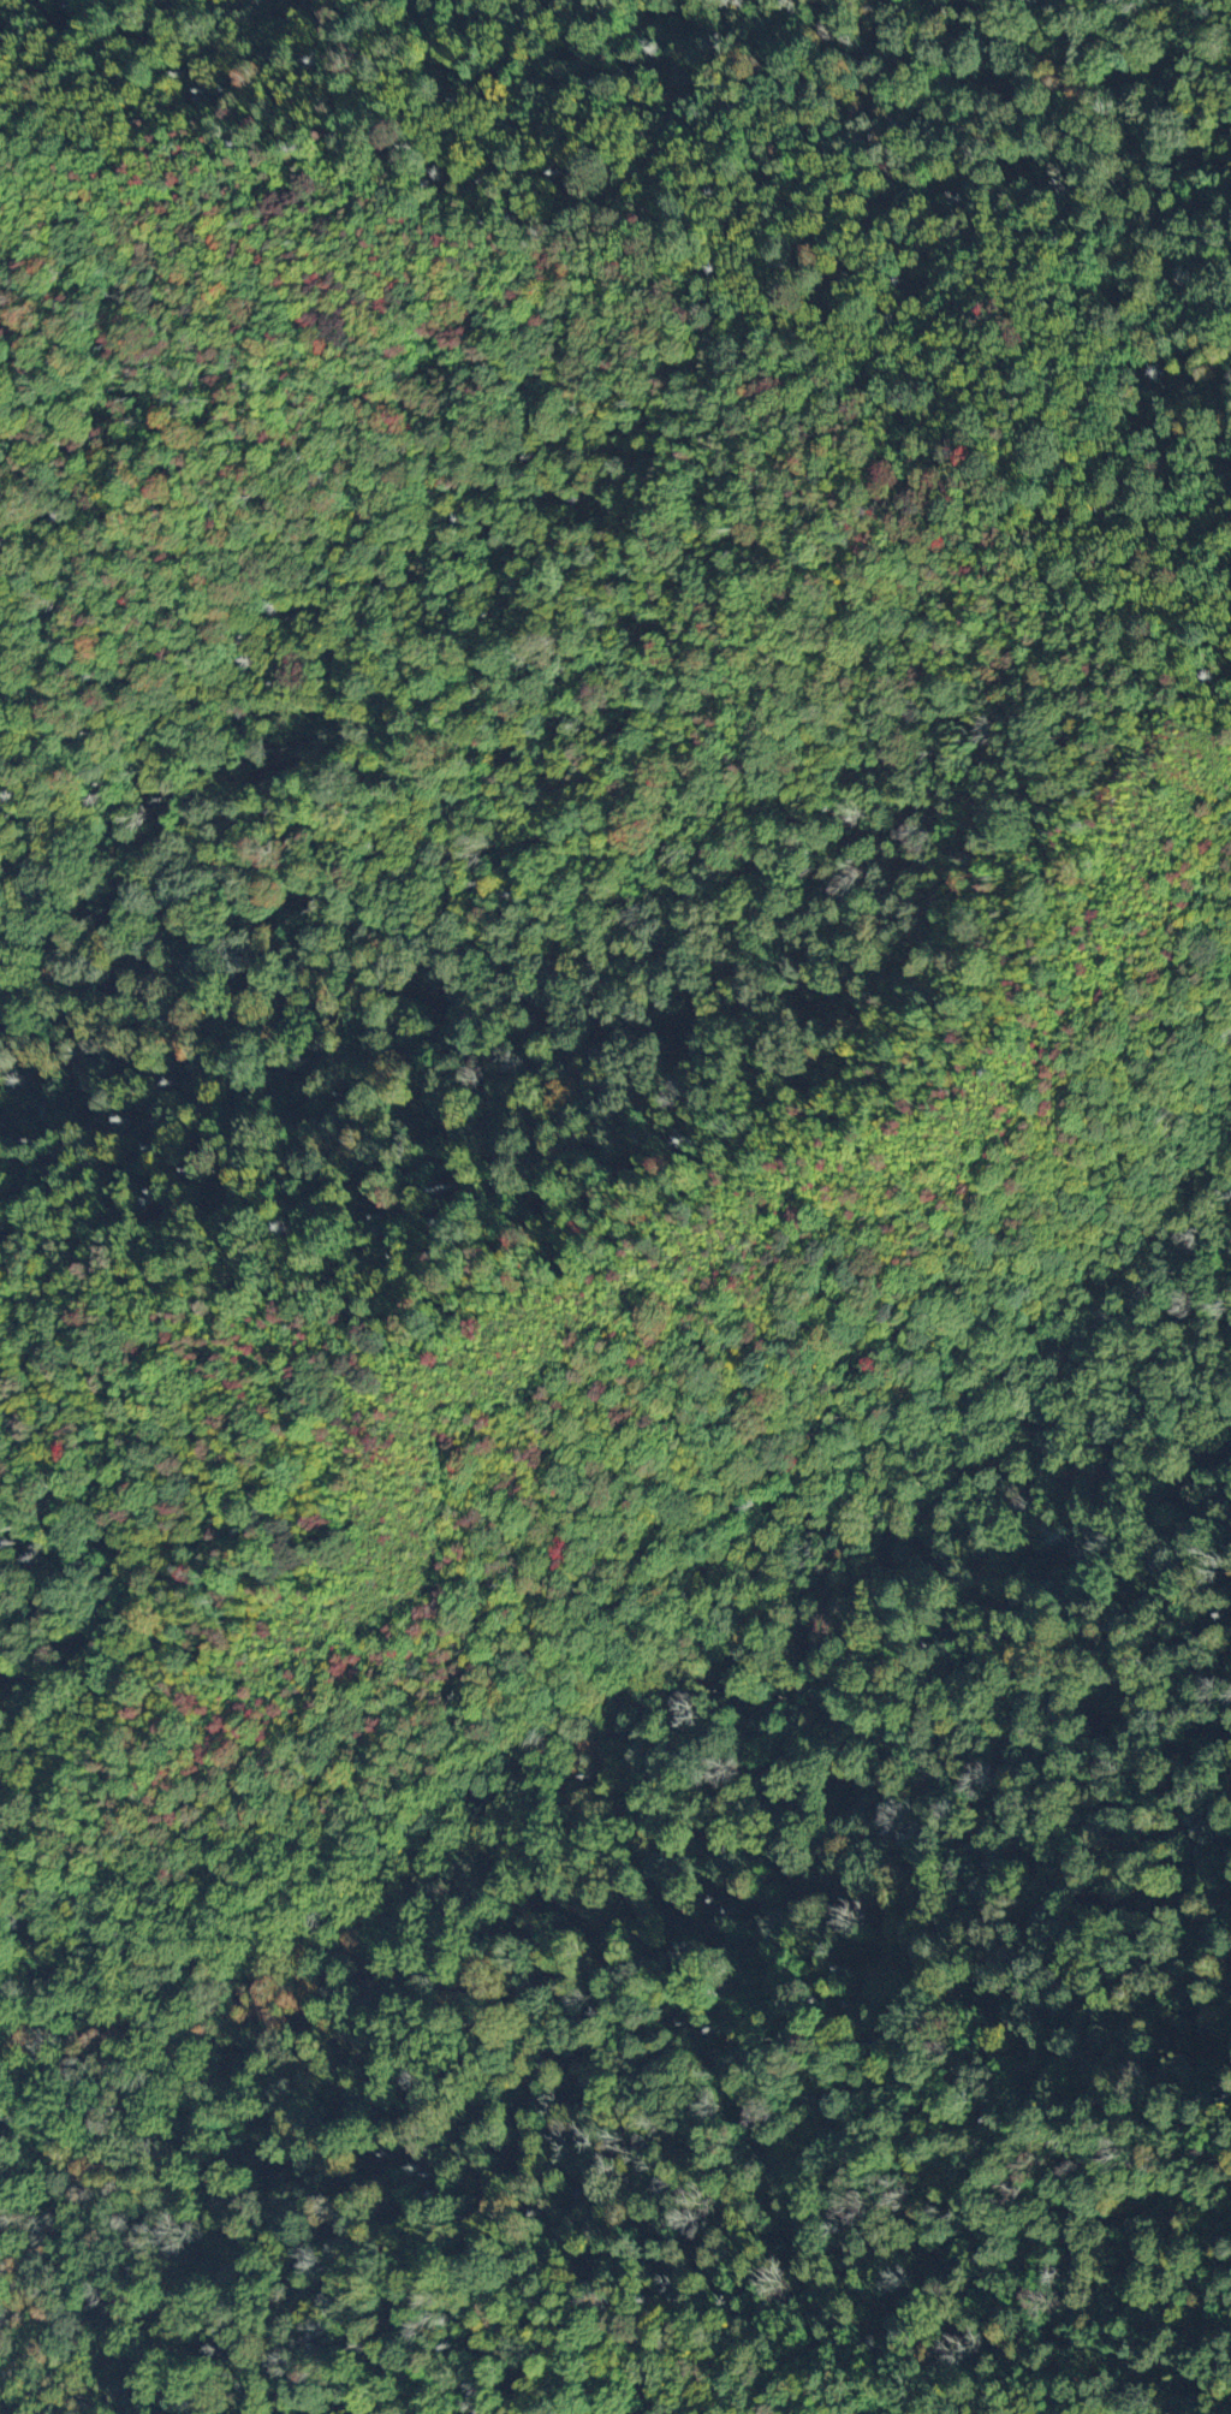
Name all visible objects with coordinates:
road: (81, 2337)

